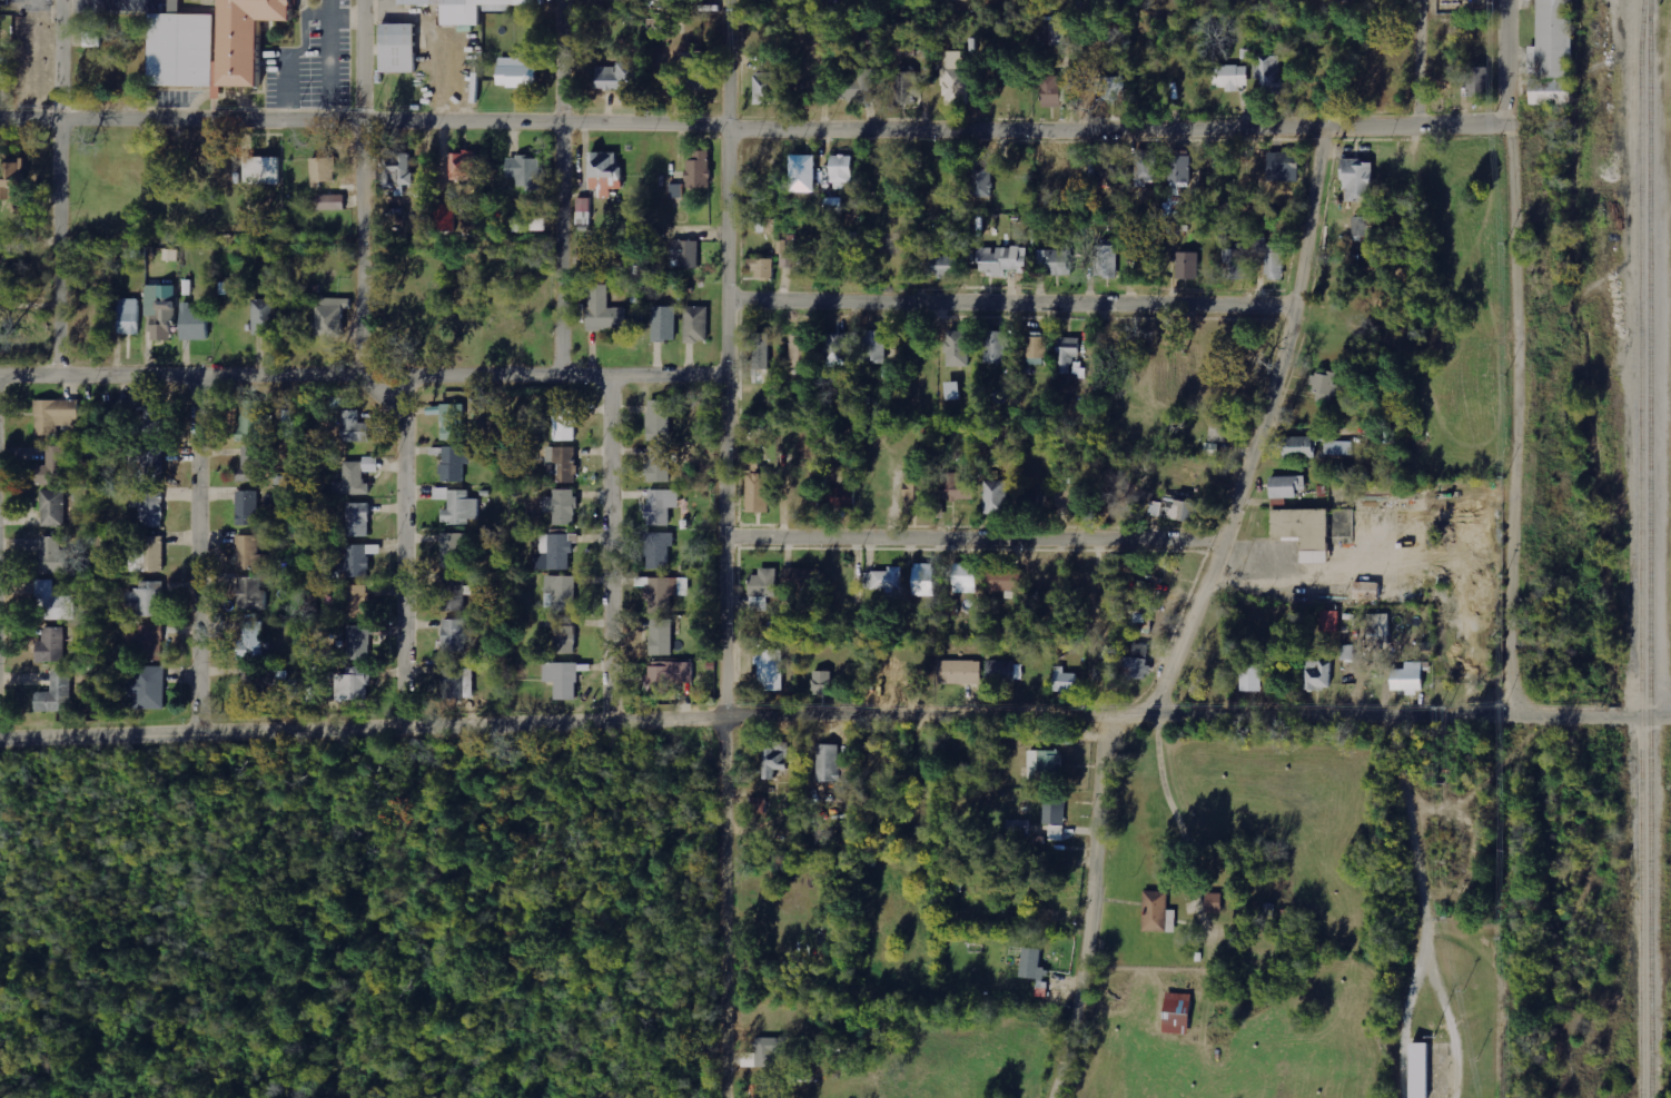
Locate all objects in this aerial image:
building: (1345, 0)
building: (469, 8)
building: (1058, 33)
building: (208, 41)
building: (393, 50)
building: (1548, 56)
road: (1416, 63)
building: (6, 69)
building: (693, 69)
building: (515, 72)
building: (1270, 75)
building: (616, 77)
building: (1230, 77)
building: (956, 78)
building: (1475, 81)
building: (857, 87)
building: (763, 88)
building: (907, 88)
building: (1110, 89)
building: (1049, 91)
road: (752, 129)
building: (1106, 165)
building: (462, 166)
building: (1178, 166)
building: (1146, 167)
building: (1285, 167)
building: (18, 169)
building: (1058, 169)
building: (266, 170)
building: (699, 170)
building: (322, 171)
building: (399, 171)
building: (525, 171)
building: (603, 172)
building: (842, 172)
building: (801, 174)
building: (980, 179)
building: (1356, 179)
road: (555, 188)
road: (57, 189)
road: (359, 189)
building: (19, 192)
building: (329, 202)
building: (584, 205)
building: (834, 205)
building: (445, 217)
building: (1359, 226)
building: (686, 253)
building: (788, 253)
building: (170, 255)
building: (1272, 258)
building: (1001, 260)
building: (1106, 260)
building: (1052, 261)
building: (1236, 261)
building: (940, 265)
building: (1187, 265)
building: (761, 267)
road: (1009, 304)
building: (604, 310)
building: (159, 311)
building: (128, 316)
building: (330, 316)
building: (264, 317)
building: (191, 323)
building: (664, 324)
building: (696, 324)
building: (874, 346)
building: (995, 347)
building: (957, 348)
building: (800, 349)
building: (760, 350)
building: (837, 350)
building: (1036, 350)
building: (1067, 355)
road: (1506, 359)
road: (362, 378)
building: (1323, 386)
building: (951, 392)
building: (58, 415)
building: (142, 415)
building: (251, 421)
building: (451, 421)
building: (657, 421)
building: (290, 423)
building: (354, 427)
road: (1255, 428)
building: (1217, 431)
building: (1297, 446)
building: (1338, 447)
building: (886, 456)
building: (749, 462)
building: (454, 463)
building: (562, 463)
building: (657, 464)
building: (148, 465)
building: (250, 465)
building: (55, 467)
building: (356, 477)
building: (956, 486)
building: (1286, 486)
building: (1065, 492)
building: (755, 493)
building: (912, 495)
building: (839, 496)
building: (996, 497)
building: (457, 505)
building: (561, 506)
building: (660, 506)
building: (55, 507)
building: (247, 507)
building: (150, 508)
building: (1184, 508)
building: (358, 520)
building: (1312, 530)
road: (970, 540)
building: (454, 548)
road: (722, 548)
railway: (1648, 548)
building: (558, 550)
road: (607, 550)
building: (657, 551)
road: (403, 553)
building: (154, 554)
building: (249, 554)
building: (56, 557)
road: (195, 557)
building: (358, 561)
building: (801, 577)
building: (965, 577)
building: (923, 580)
building: (887, 581)
building: (762, 588)
building: (1366, 591)
building: (562, 592)
building: (249, 593)
building: (454, 594)
building: (147, 601)
building: (356, 601)
building: (56, 603)
building: (1141, 621)
building: (1328, 621)
building: (454, 635)
building: (661, 637)
building: (564, 640)
building: (249, 641)
building: (149, 642)
building: (358, 643)
building: (55, 645)
building: (1347, 652)
building: (1136, 662)
building: (770, 670)
building: (958, 672)
building: (999, 672)
building: (668, 675)
building: (1318, 675)
building: (1250, 677)
building: (1406, 677)
building: (562, 679)
building: (453, 681)
building: (1064, 681)
building: (822, 682)
building: (352, 685)
building: (147, 688)
building: (59, 694)
road: (834, 718)
building: (773, 760)
building: (827, 763)
building: (1045, 764)
building: (758, 805)
building: (1054, 815)
building: (1018, 825)
building: (1213, 902)
road: (1088, 911)
building: (1157, 912)
building: (1031, 965)
building: (1175, 1013)
building: (769, 1050)
building: (1418, 1070)
building: (765, 1091)

